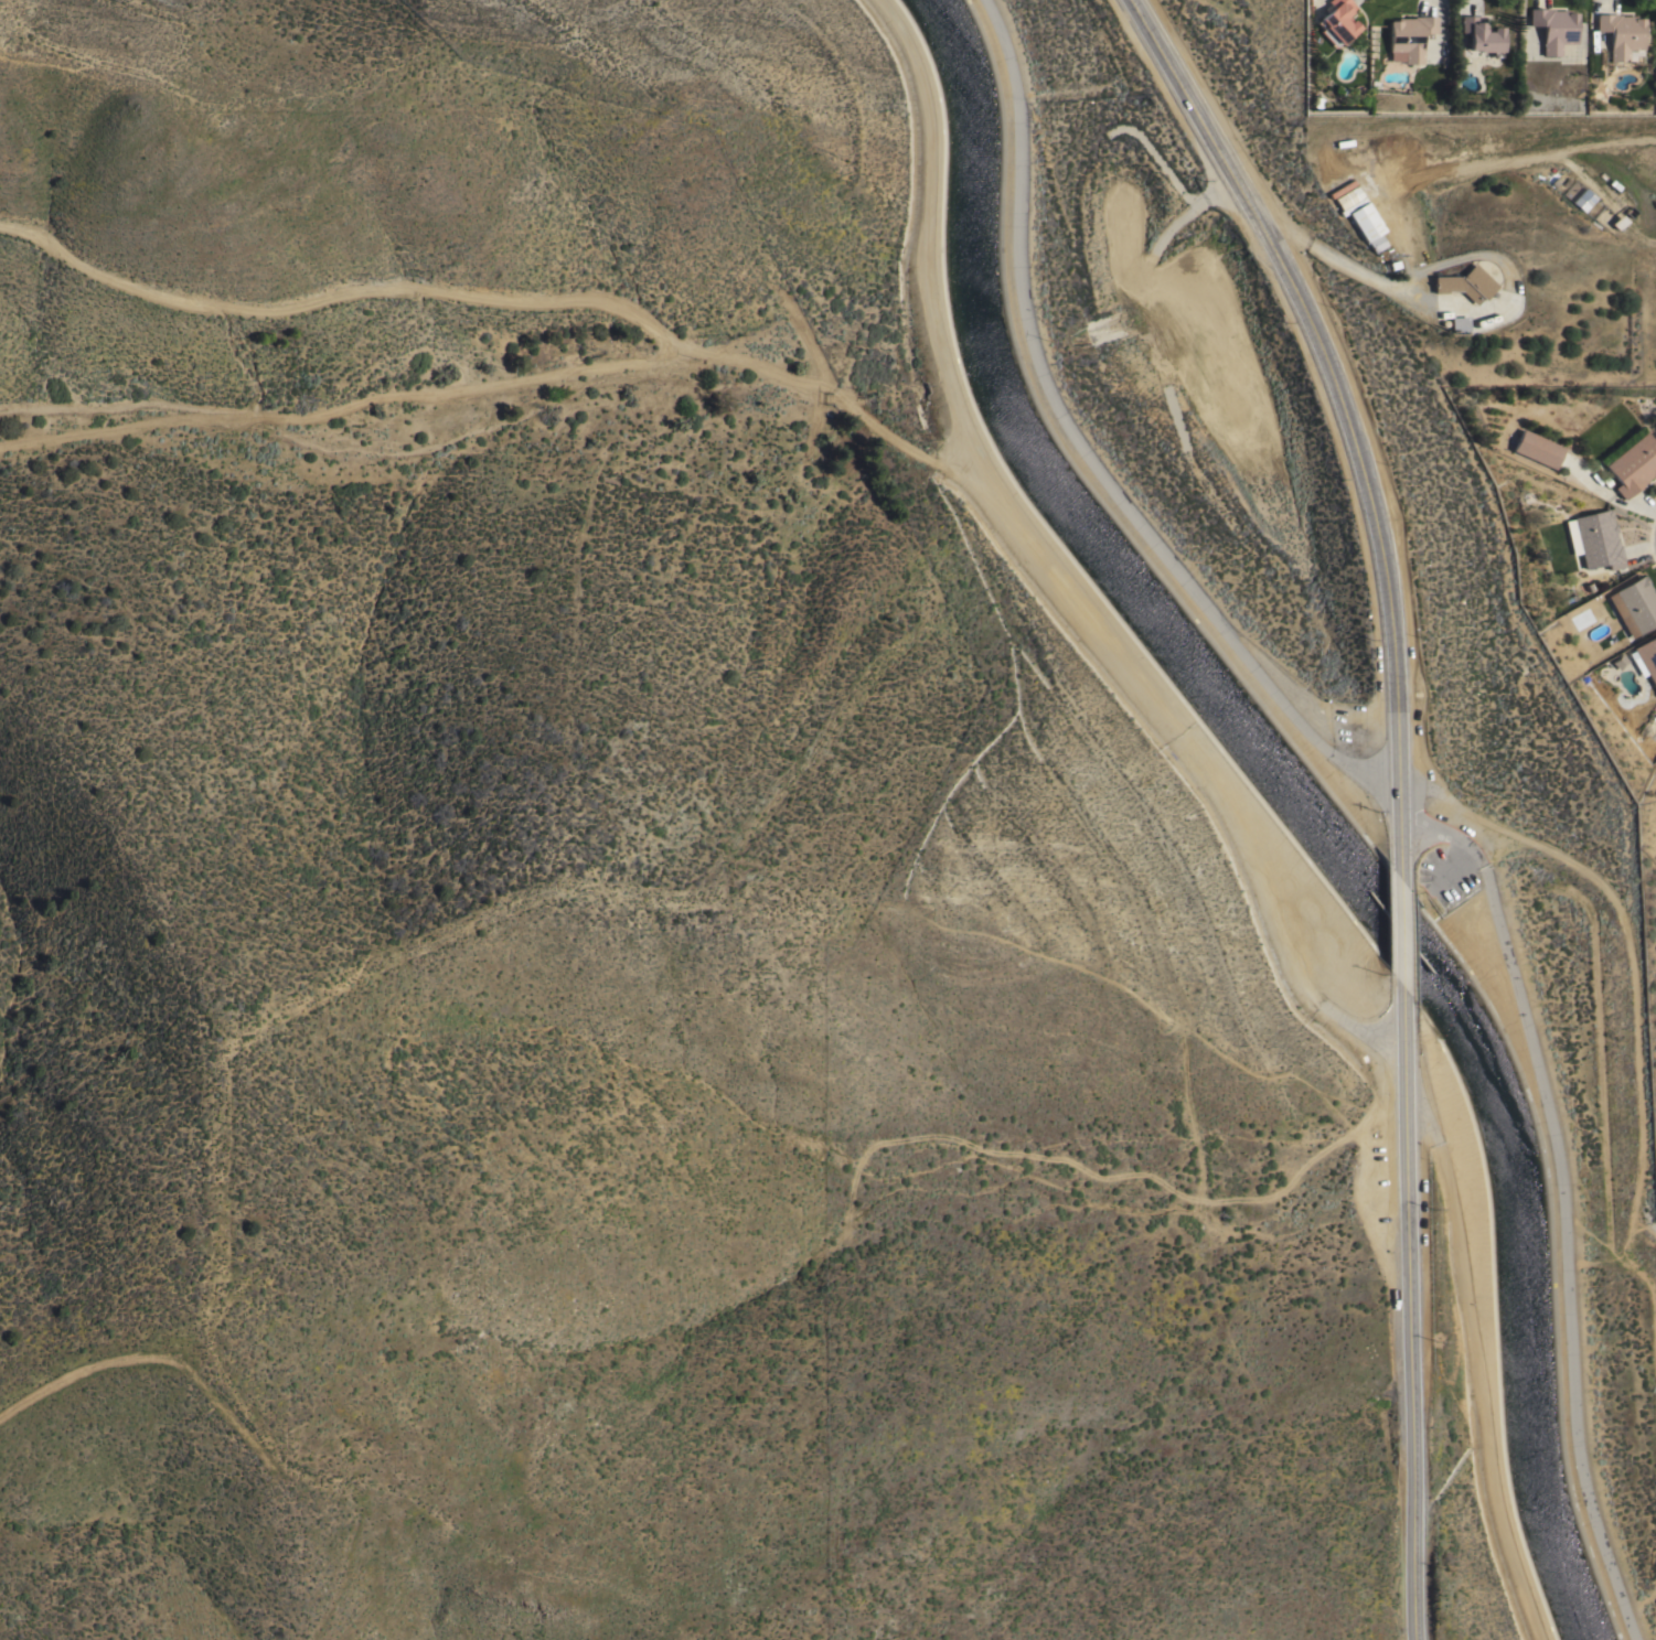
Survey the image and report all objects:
building: (1337, 20)
building: (1553, 28)
building: (1482, 34)
building: (1621, 35)
building: (1409, 36)
building: (1375, 84)
building: (1612, 184)
building: (1348, 196)
building: (1583, 200)
building: (1622, 216)
building: (1598, 219)
building: (1366, 223)
road: (1401, 249)
road: (1343, 262)
building: (1392, 264)
building: (1464, 283)
building: (1456, 323)
road: (1344, 411)
building: (1537, 449)
building: (1633, 465)
building: (1594, 539)
road: (1051, 572)
building: (1589, 588)
building: (1634, 607)
building: (1647, 658)
road: (1375, 792)
road: (1399, 931)
road: (1408, 1315)
road: (1473, 1362)

